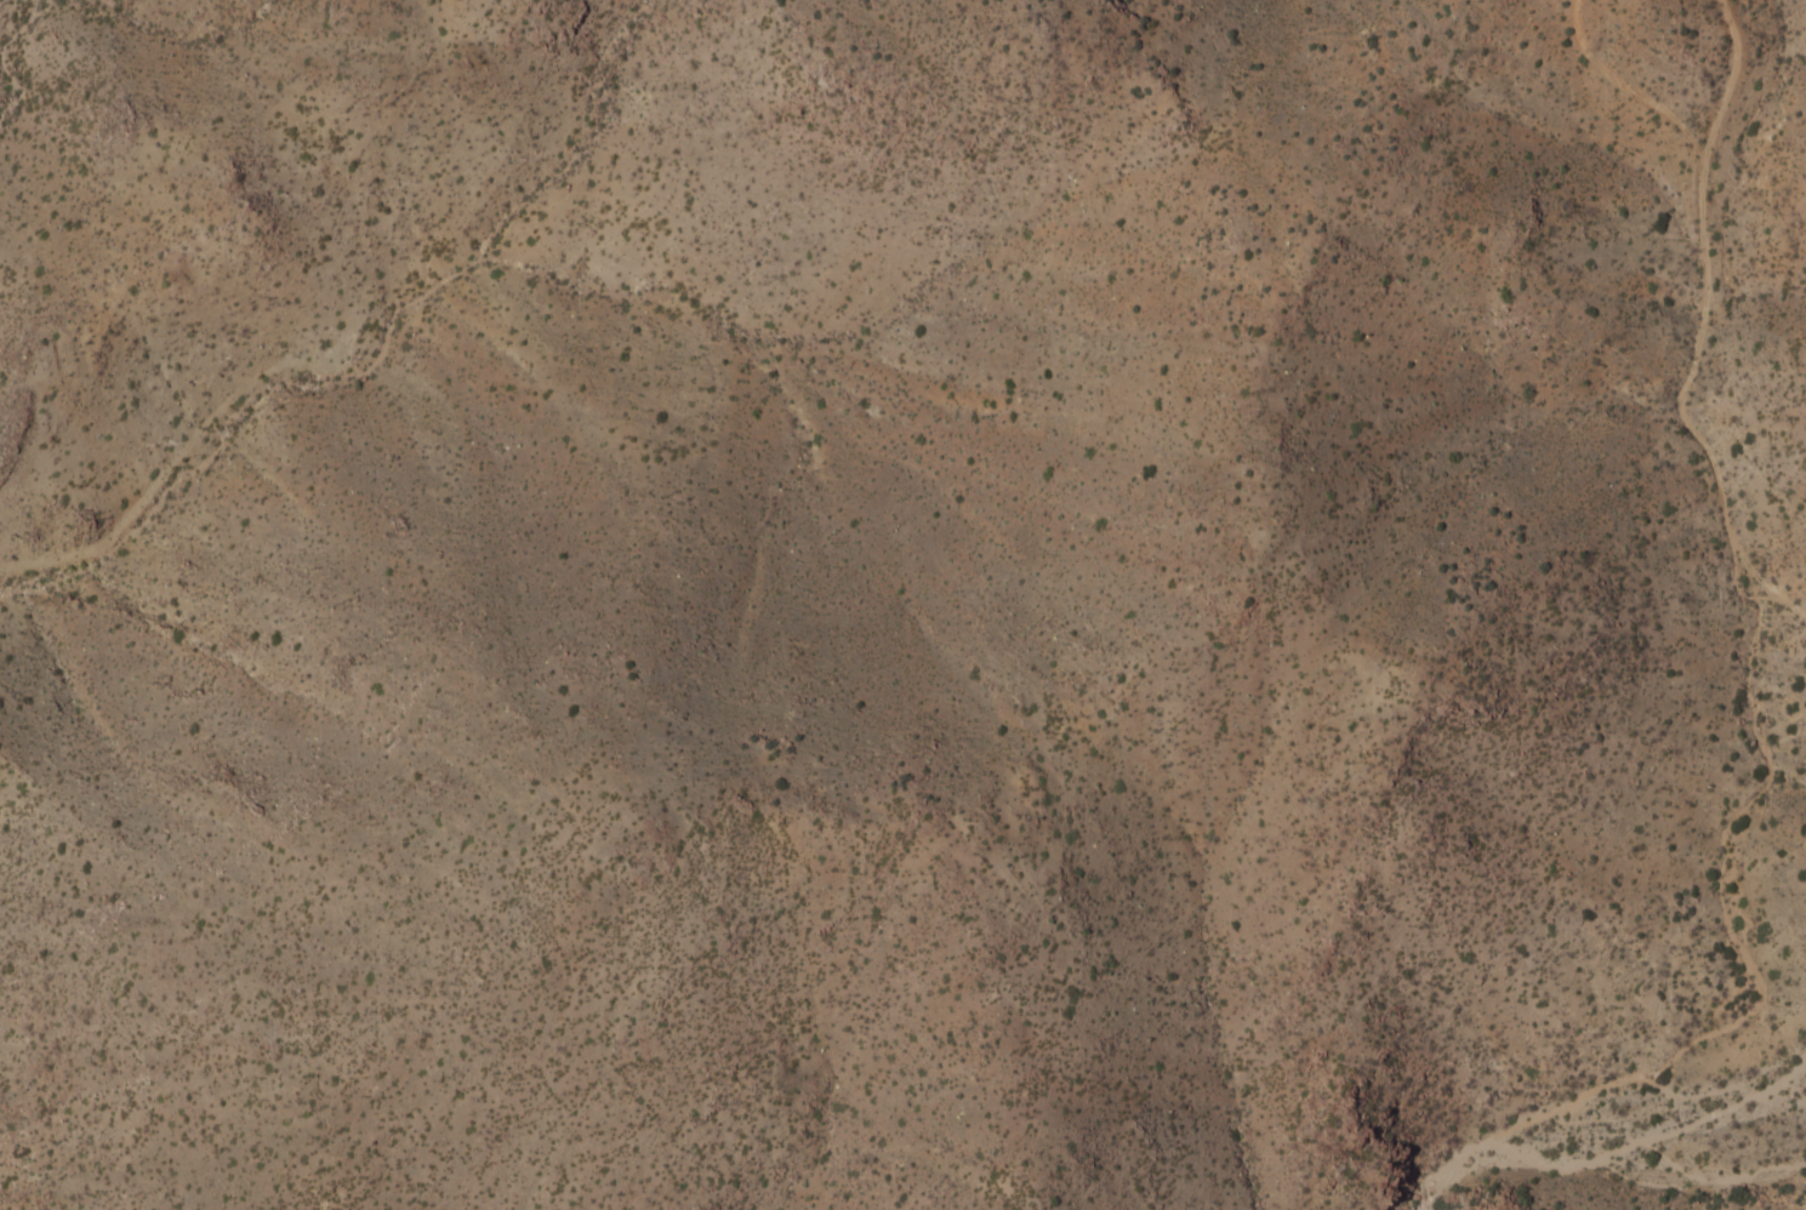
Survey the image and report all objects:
road: (1696, 310)

